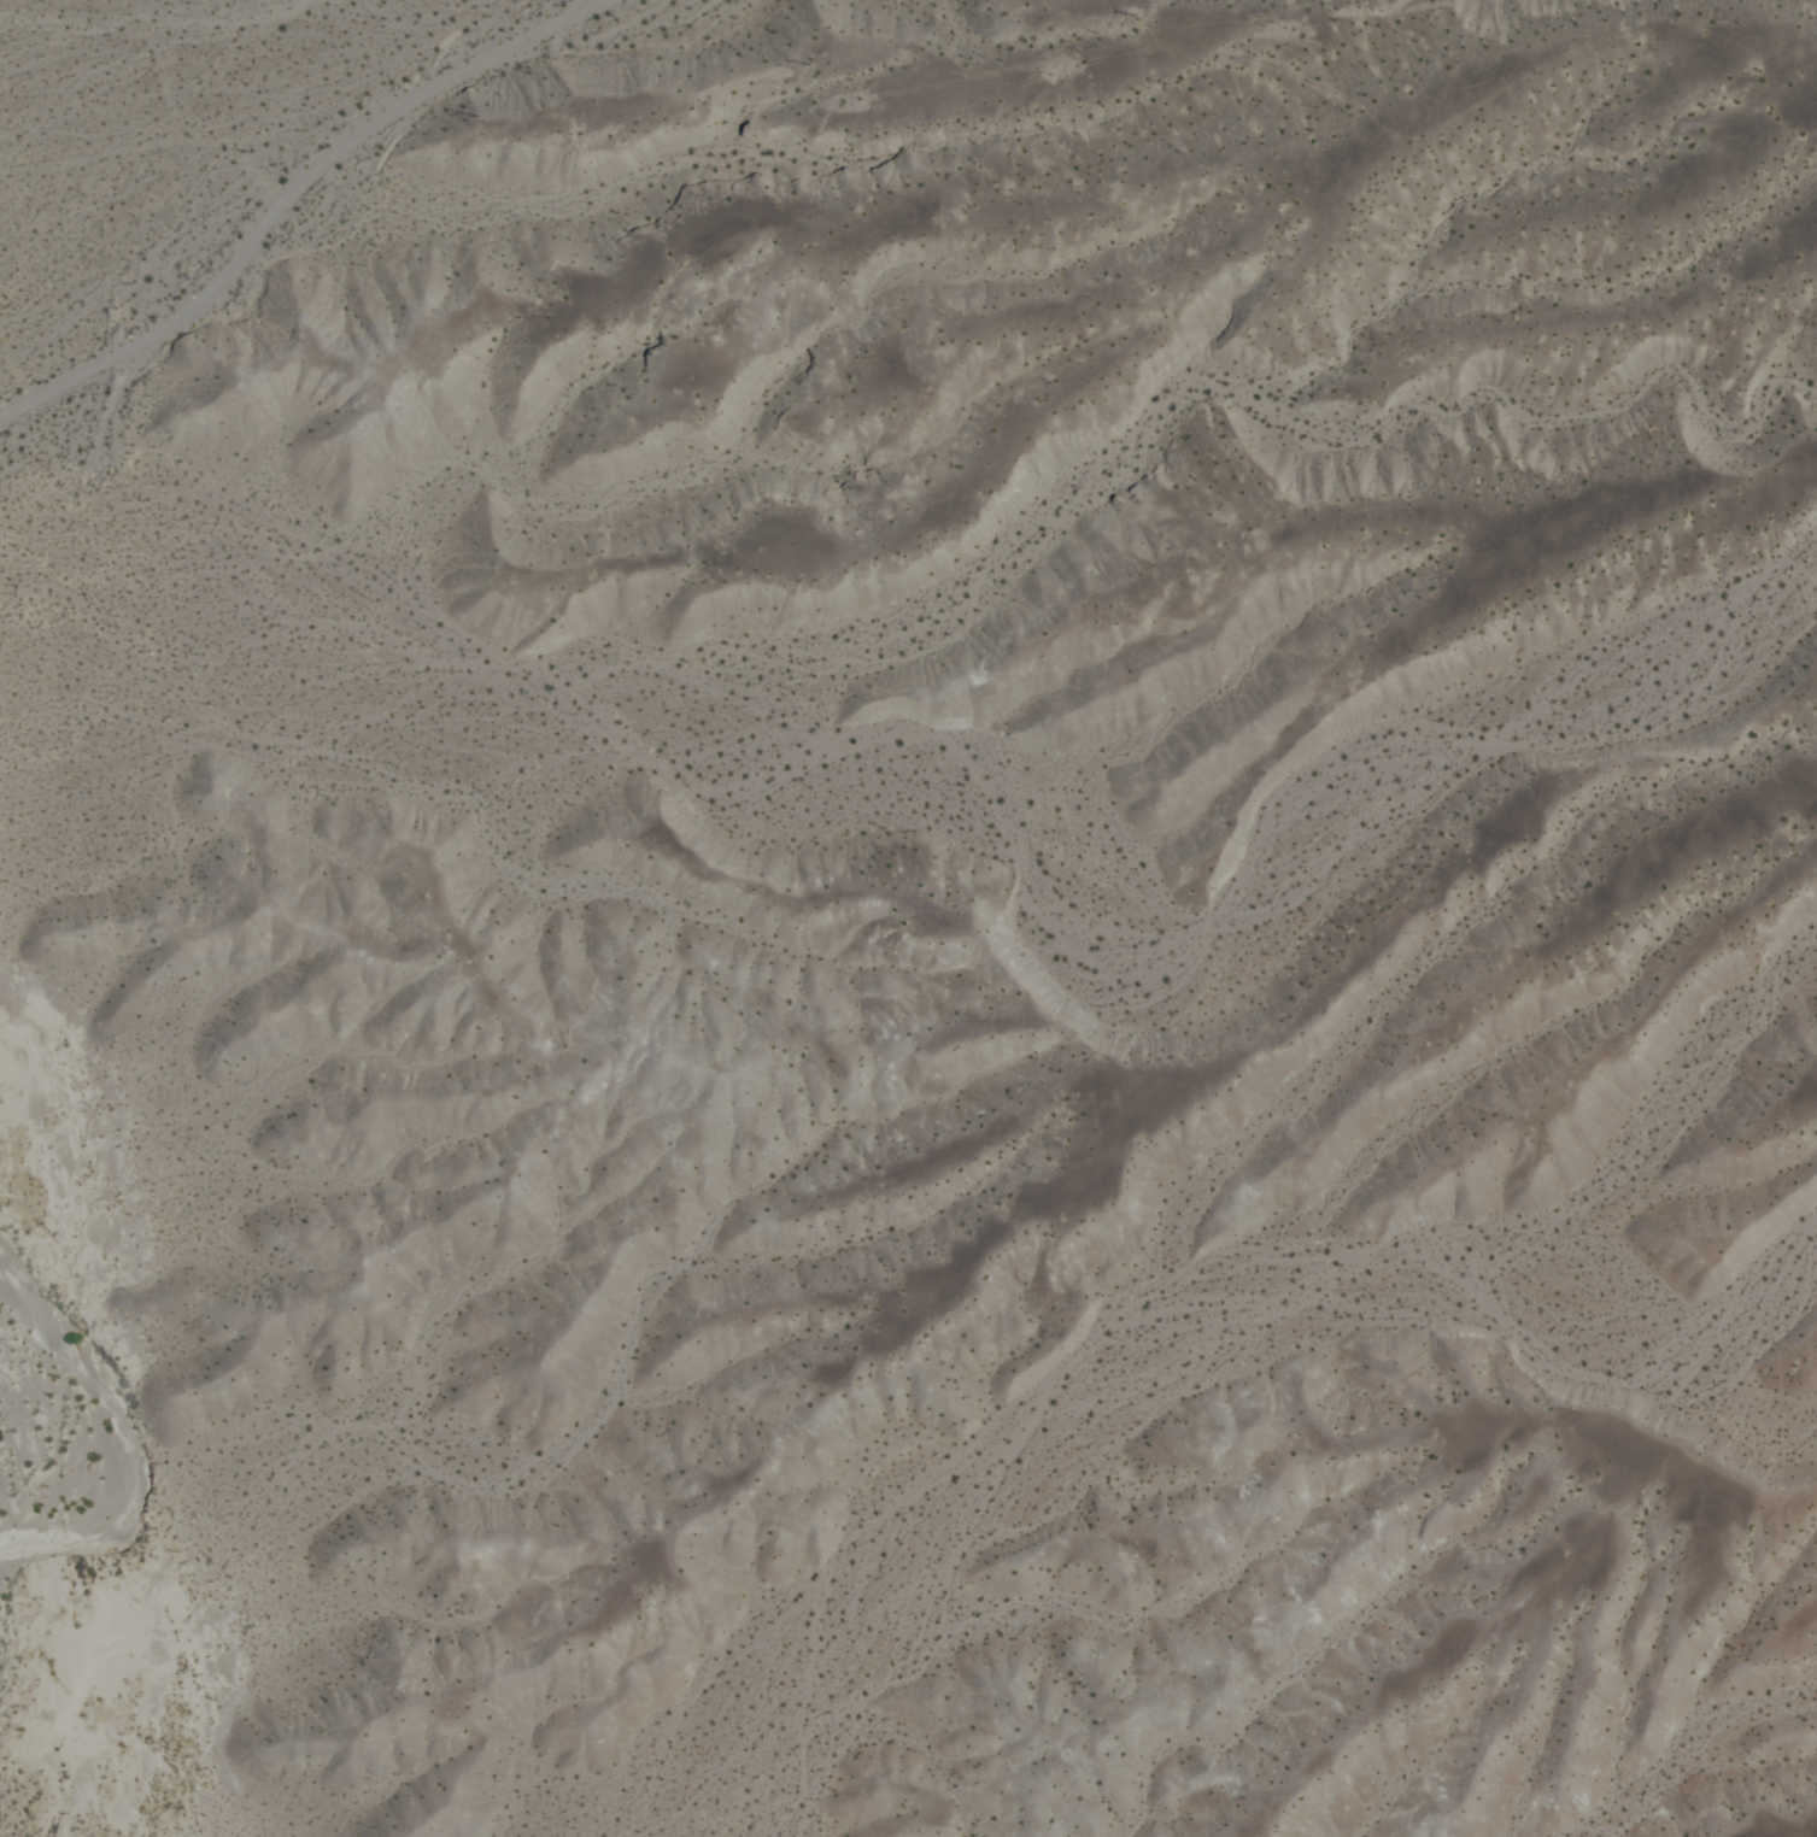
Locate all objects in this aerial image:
road: (429, 88)
road: (223, 102)
road: (156, 325)
river: (64, 1515)

